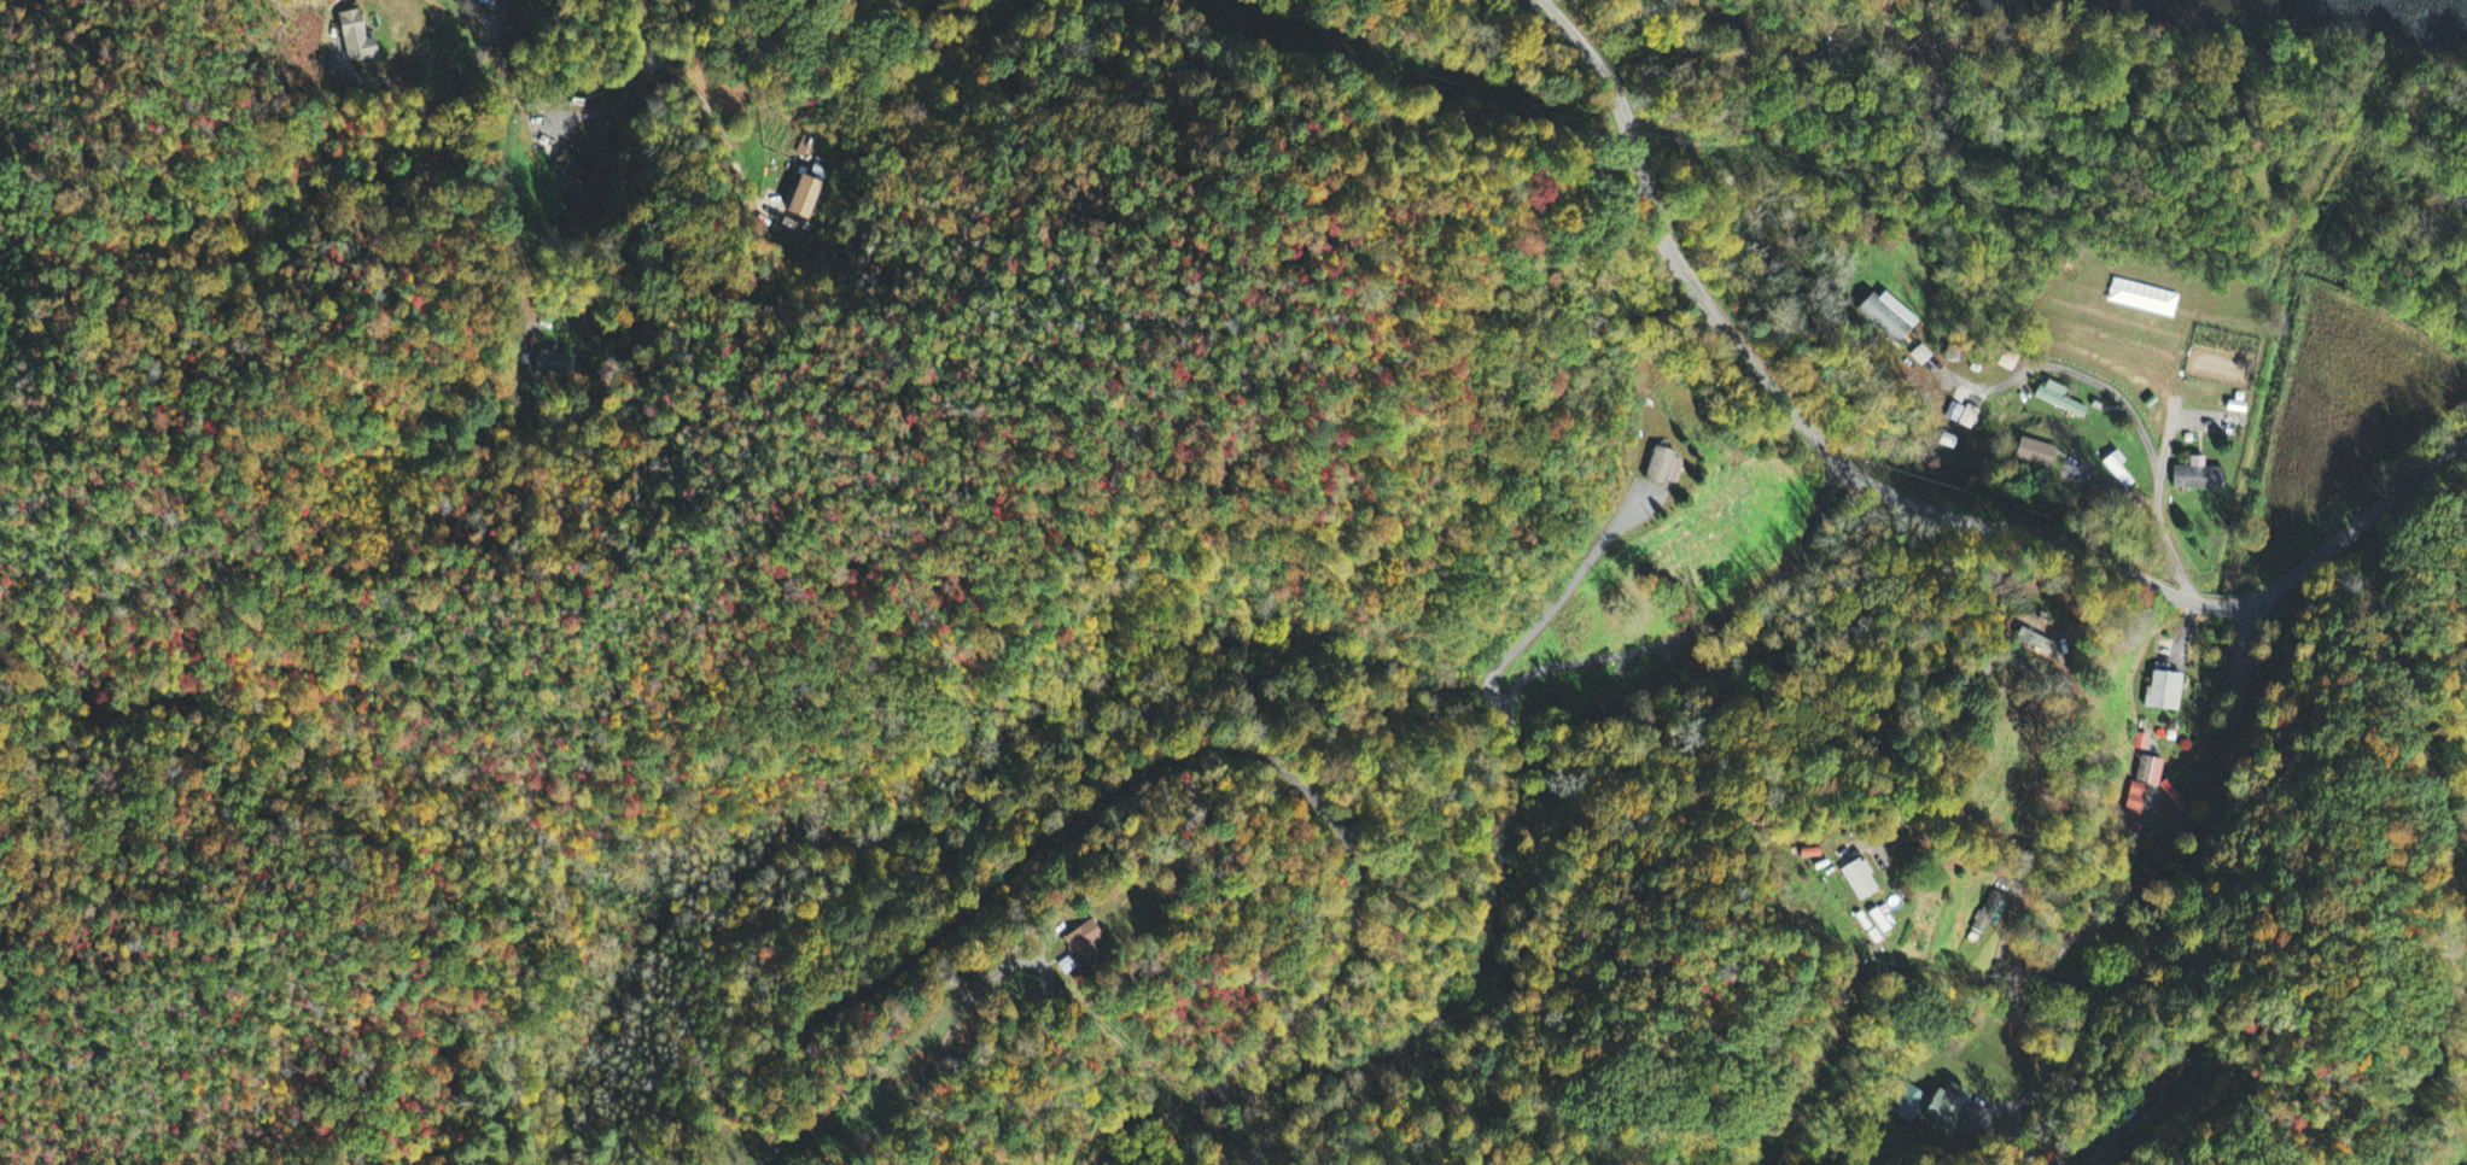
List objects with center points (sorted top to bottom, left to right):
river: (2344, 7)
building: (351, 36)
building: (575, 166)
building: (805, 198)
building: (1888, 318)
building: (549, 361)
building: (2057, 400)
building: (1961, 417)
road: (2145, 429)
building: (1947, 443)
building: (2035, 455)
building: (1662, 469)
building: (2195, 478)
road: (1905, 505)
building: (2164, 693)
road: (2066, 749)
park: (1989, 760)
building: (2150, 773)
building: (2135, 808)
road: (2194, 874)
building: (1857, 882)
building: (1989, 914)
building: (1873, 925)
building: (1081, 946)
building: (1066, 966)
building: (2175, 1078)
building: (1930, 1108)

